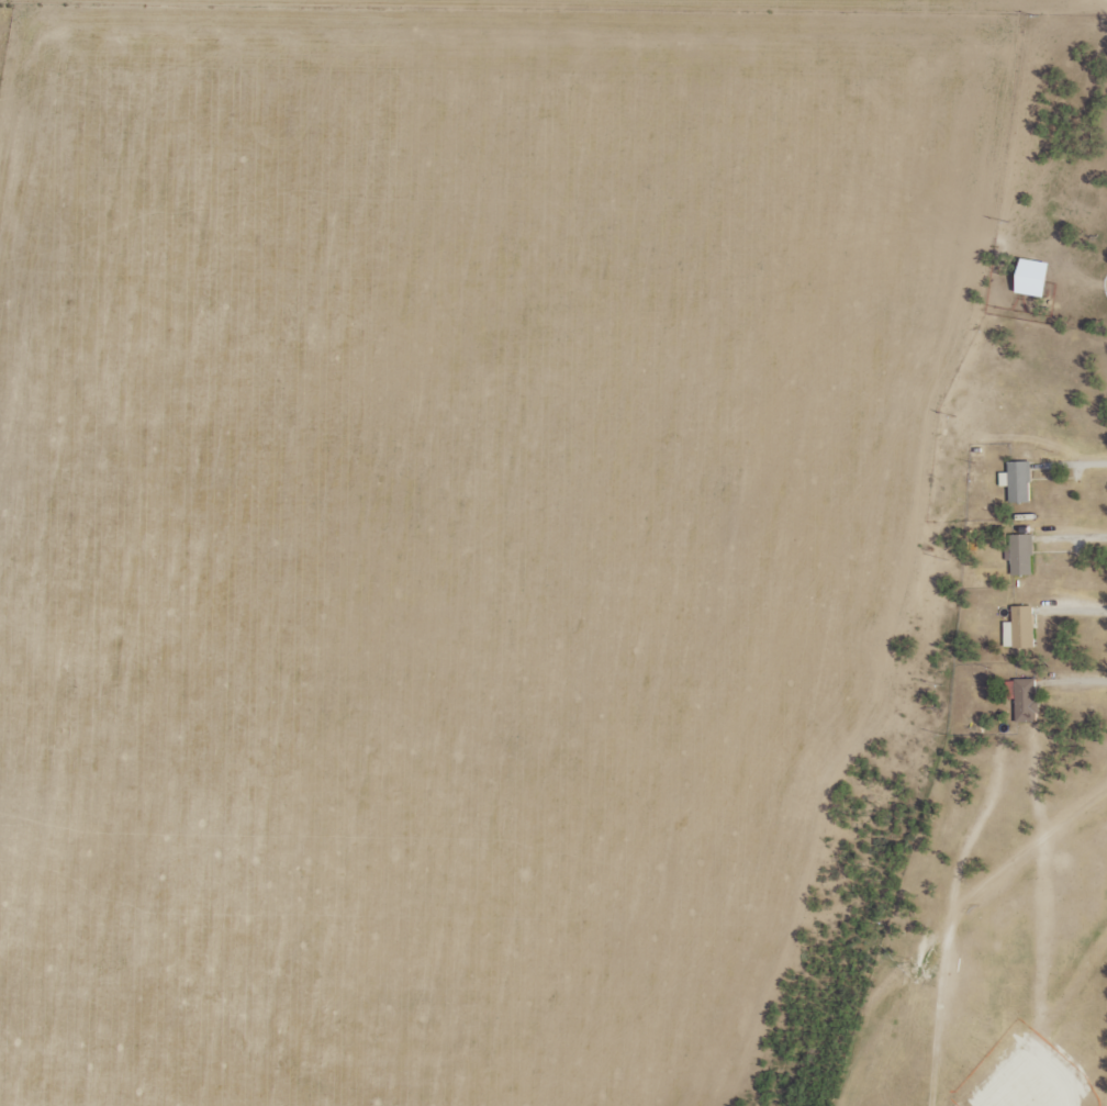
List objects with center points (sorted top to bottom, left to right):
building: (1030, 277)
building: (1016, 481)
building: (1020, 554)
building: (1018, 627)
building: (1021, 697)

